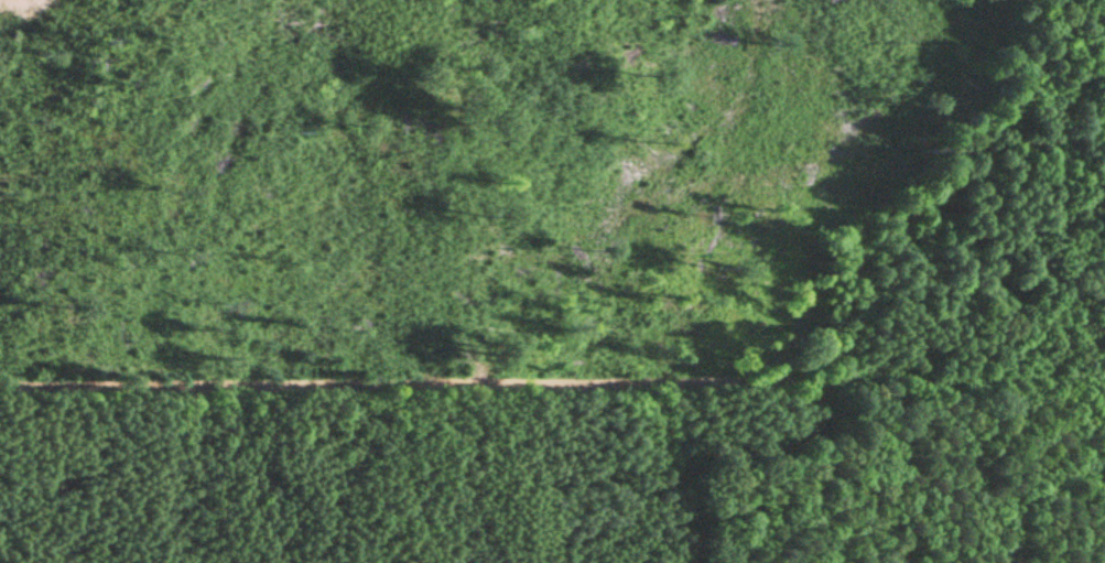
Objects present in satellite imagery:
road: (552, 382)

